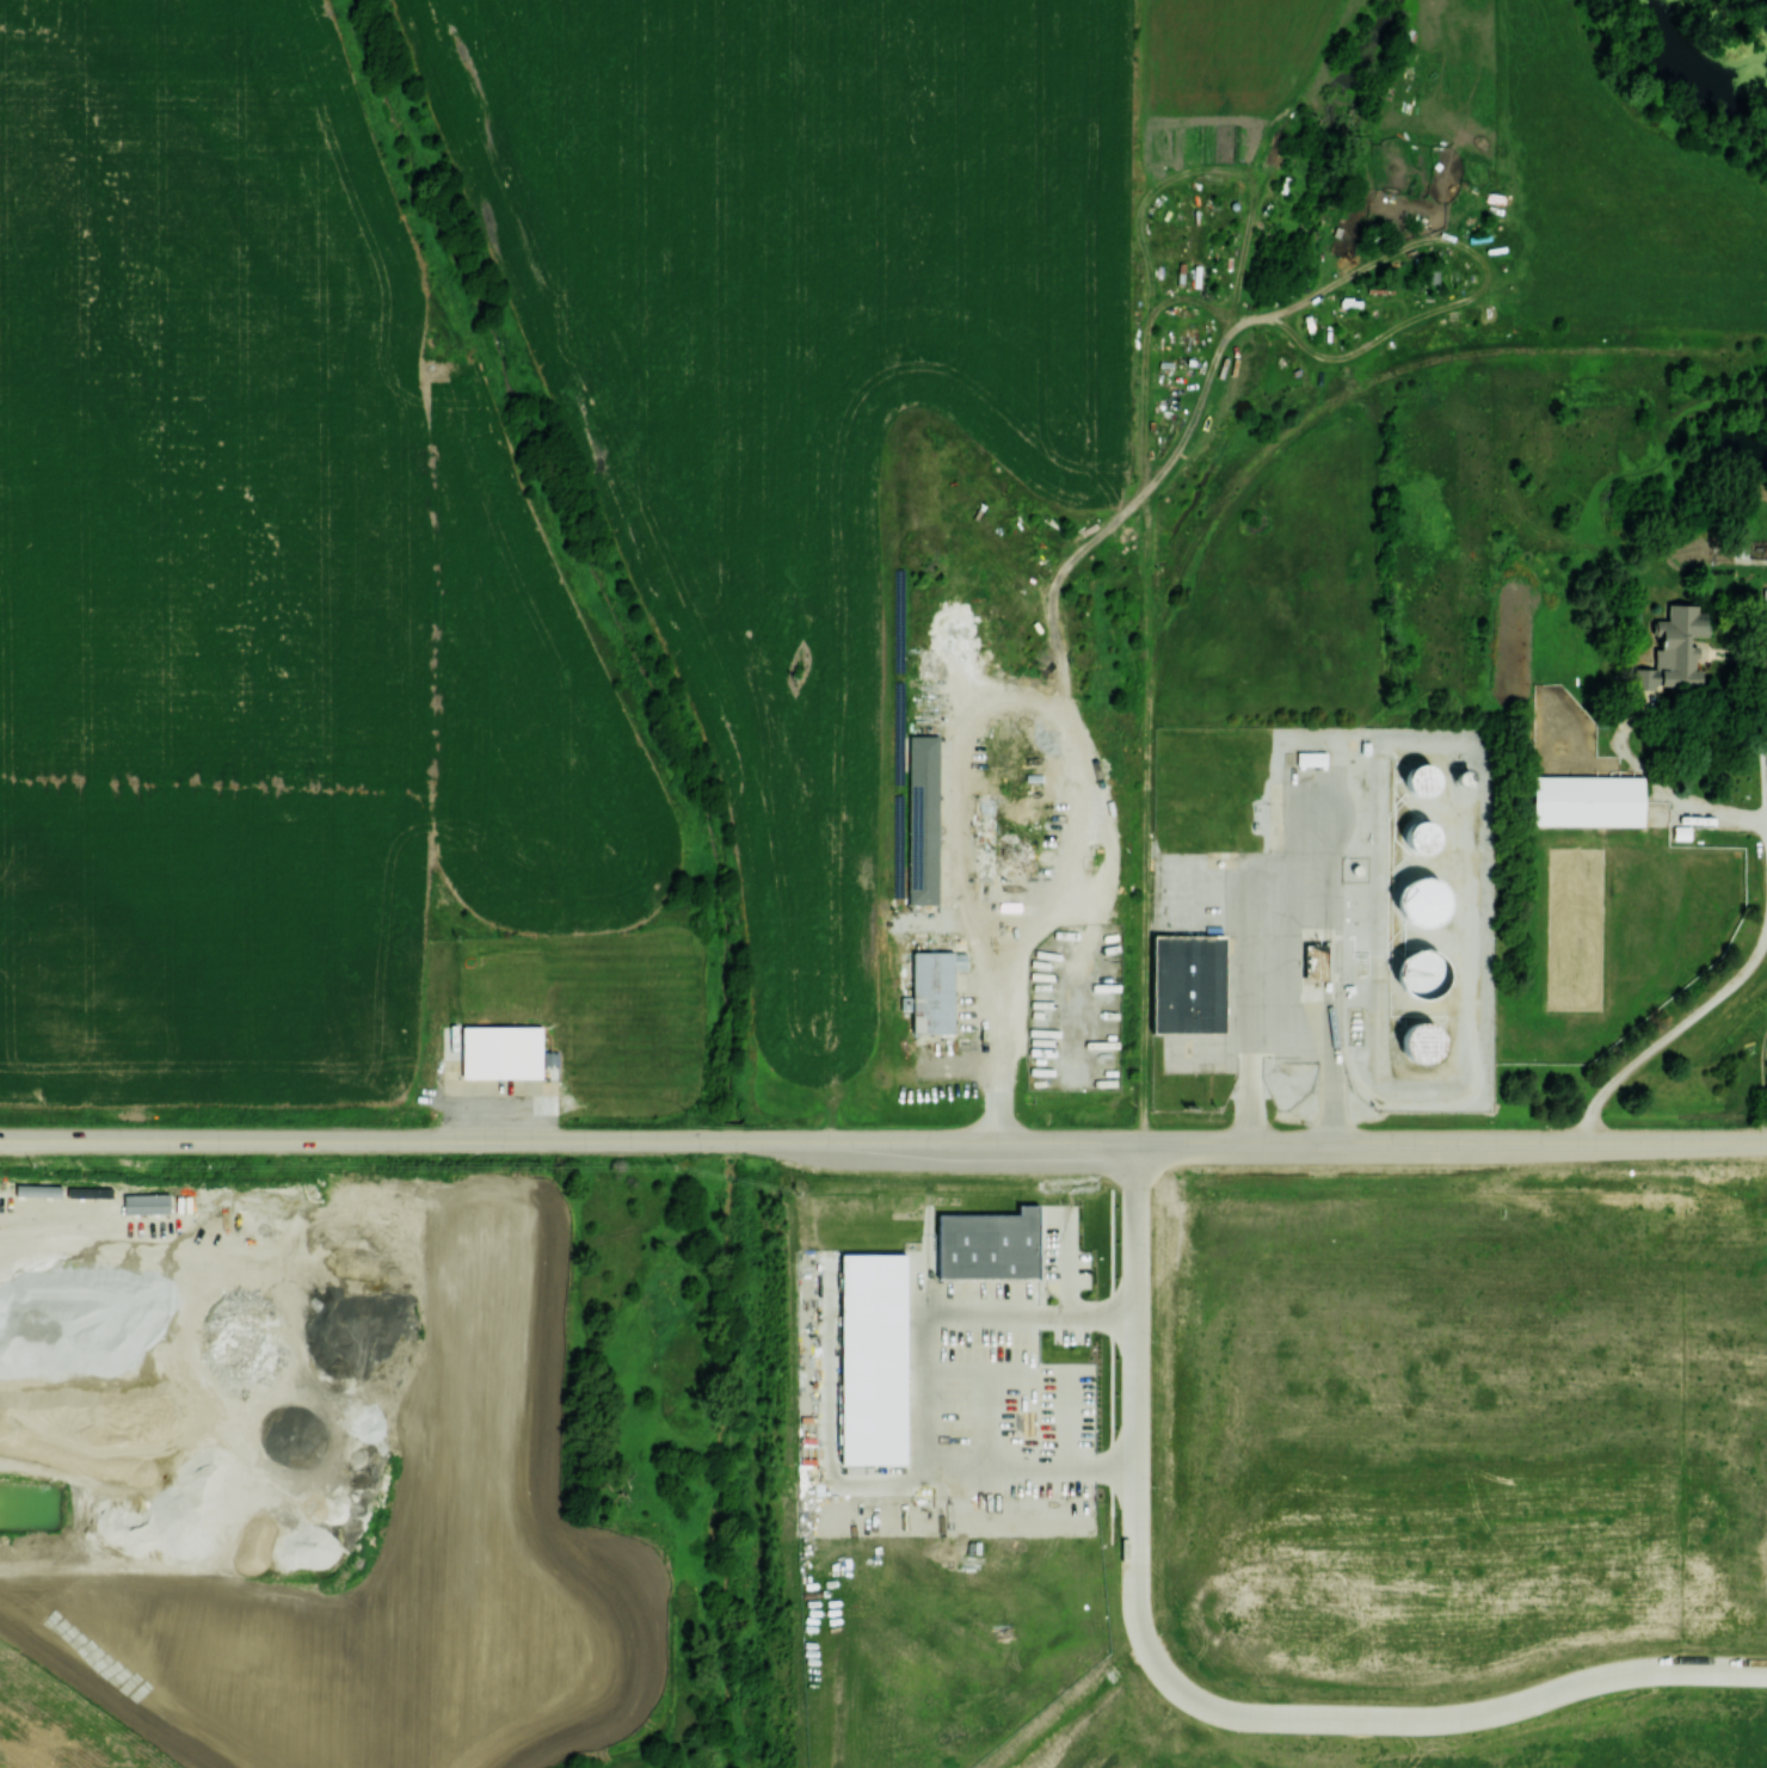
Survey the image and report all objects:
building: (1765, 600)
building: (1675, 647)
road: (1071, 743)
building: (1422, 778)
building: (1587, 800)
building: (918, 826)
building: (1423, 834)
building: (1422, 900)
building: (1316, 961)
building: (1421, 973)
building: (1187, 985)
building: (934, 990)
road: (1670, 1034)
building: (1421, 1041)
building: (500, 1051)
road: (567, 1139)
road: (1452, 1140)
building: (989, 1244)
building: (873, 1357)
road: (1135, 1413)
road: (1465, 1715)

